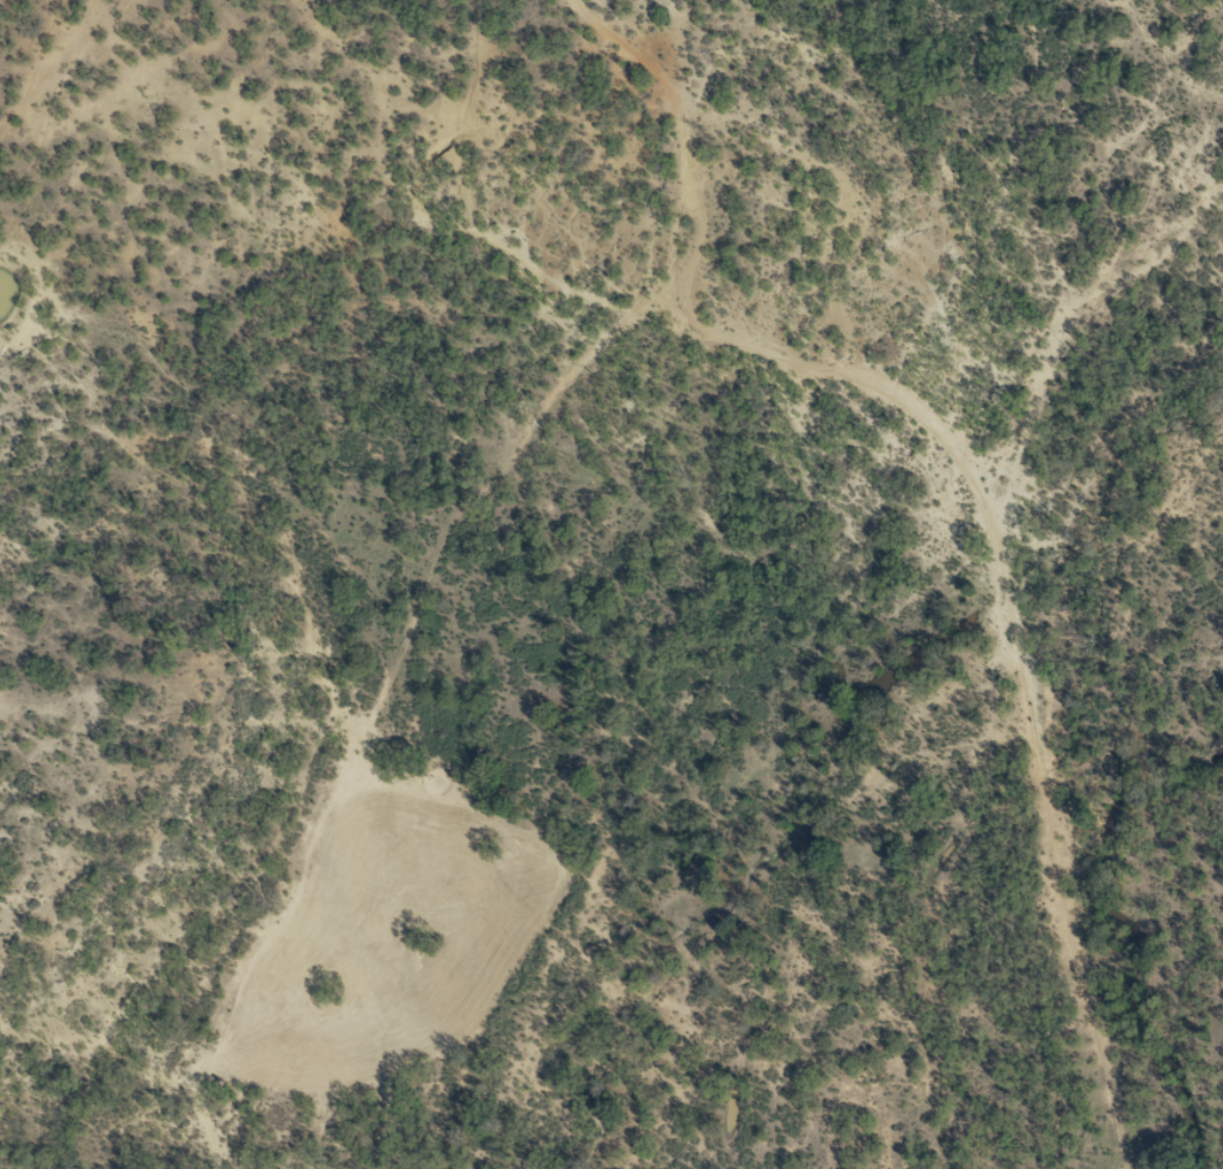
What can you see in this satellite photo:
road: (2, 4)
road: (1009, 656)

